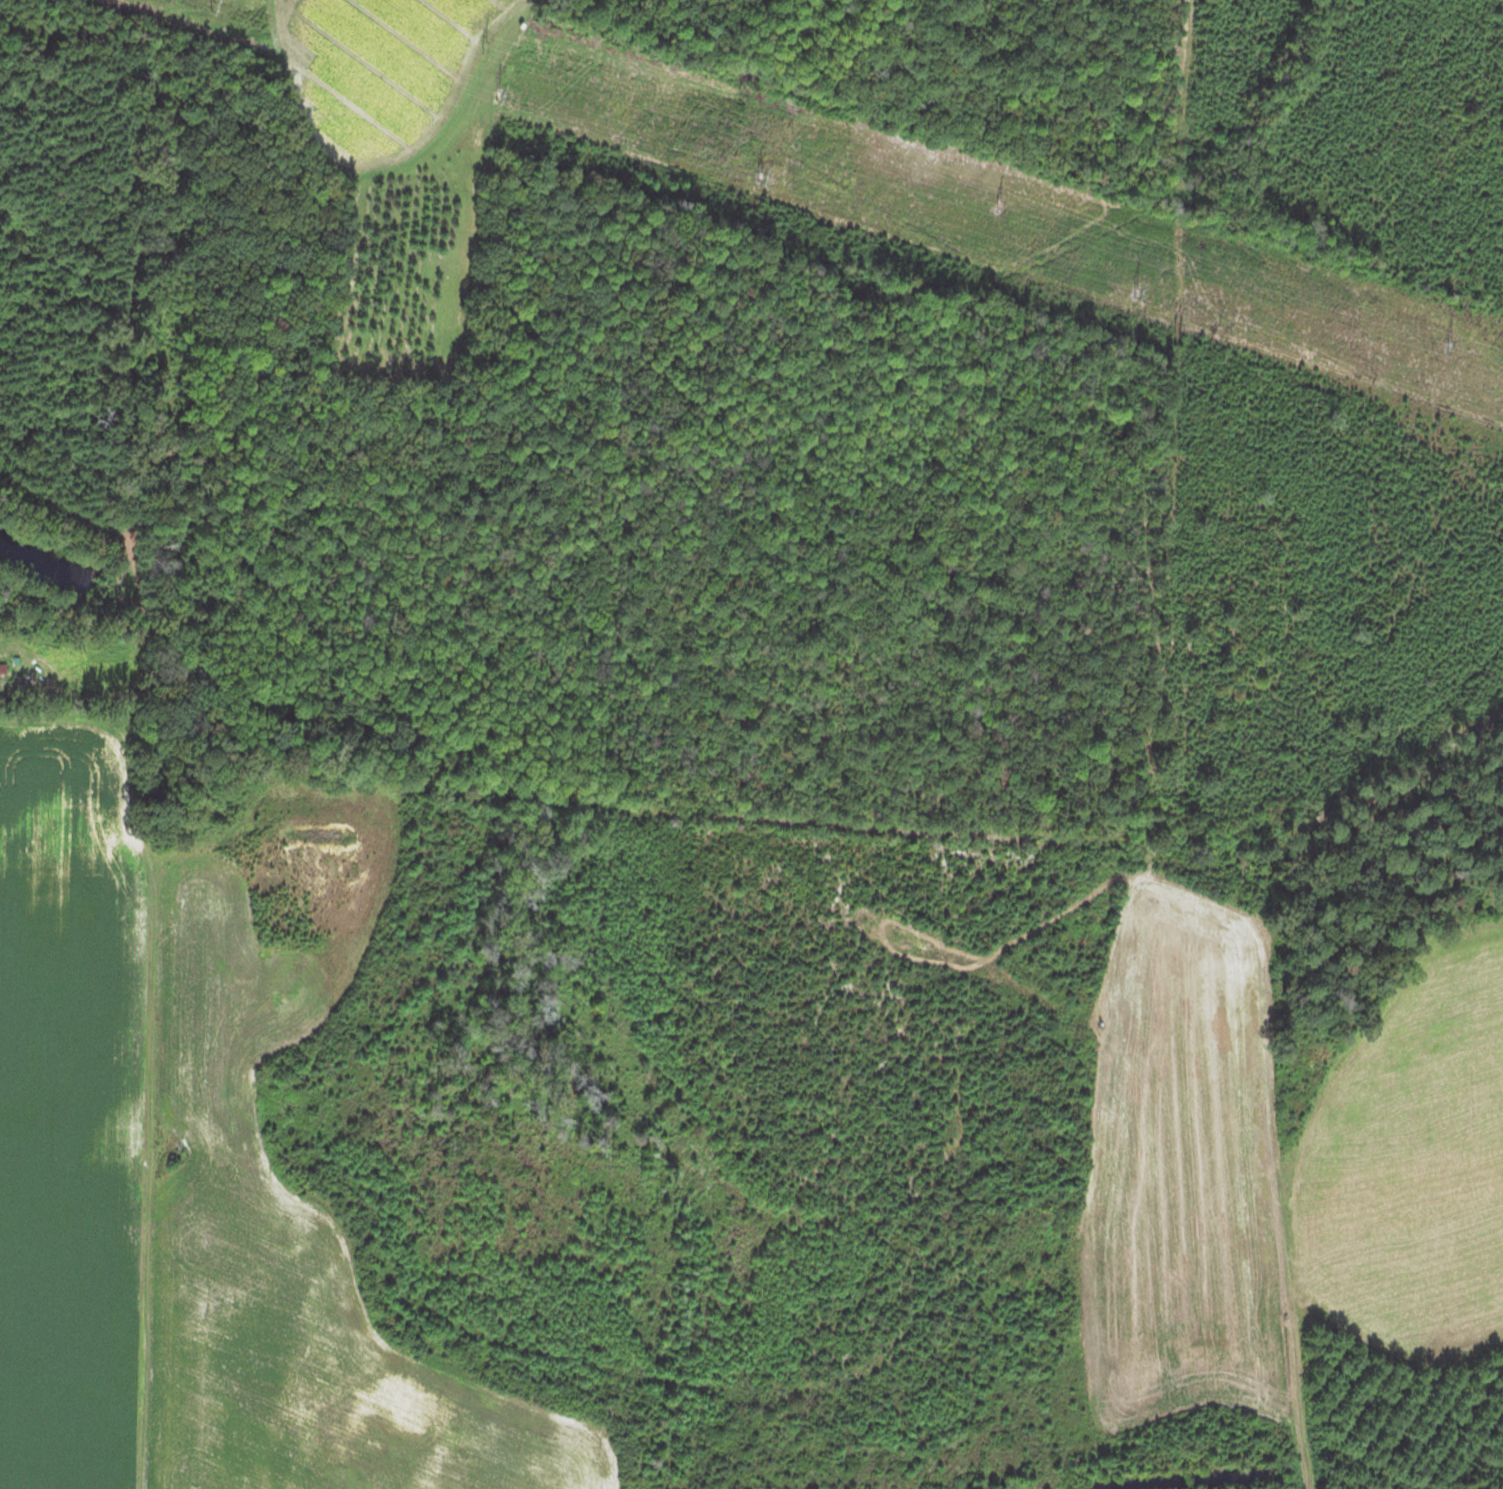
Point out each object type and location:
power tower: (504, 44)
power tower: (1022, 205)
power tower: (1444, 345)

